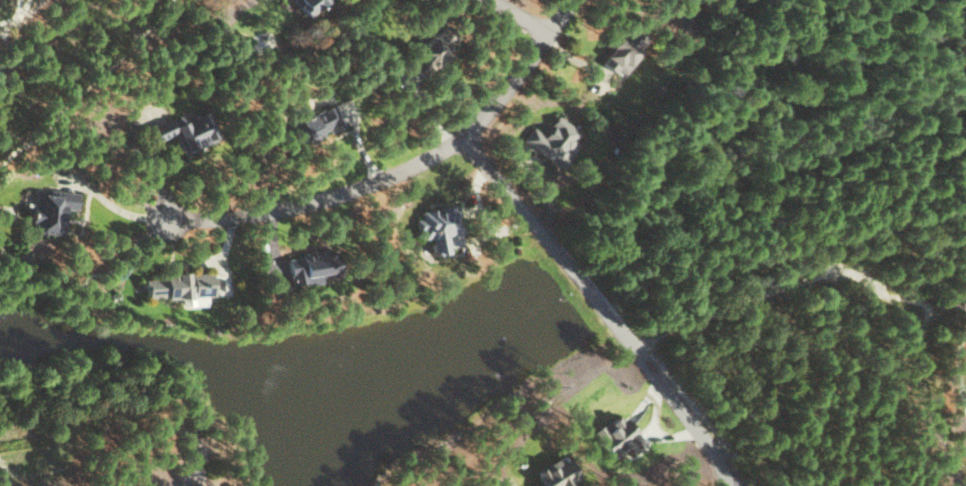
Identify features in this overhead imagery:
building: (309, 4)
road: (521, 17)
road: (15, 36)
building: (433, 46)
park: (42, 48)
building: (624, 50)
road: (527, 74)
road: (88, 86)
building: (317, 123)
park: (887, 127)
building: (187, 131)
building: (554, 139)
road: (320, 203)
building: (51, 210)
building: (439, 226)
dam: (534, 257)
building: (313, 265)
dam: (545, 278)
road: (801, 279)
building: (180, 286)
road: (79, 287)
road: (603, 312)
dam: (564, 313)
dam: (577, 336)
road: (965, 365)
road: (958, 371)
park: (955, 383)
building: (618, 436)
road: (721, 466)
building: (557, 474)

